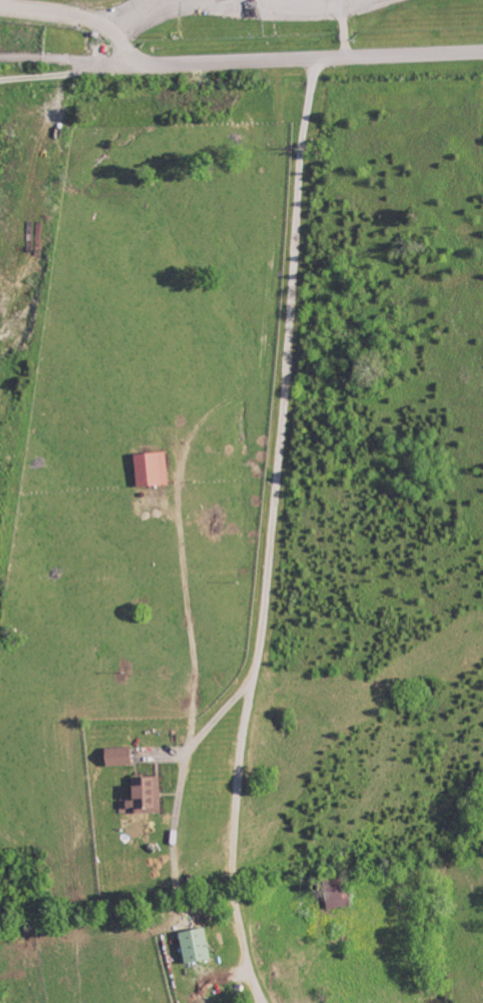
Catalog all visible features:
road: (333, 2)
road: (354, 4)
road: (75, 13)
road: (241, 56)
road: (65, 74)
building: (151, 468)
road: (273, 529)
building: (118, 755)
building: (146, 795)
building: (194, 943)

